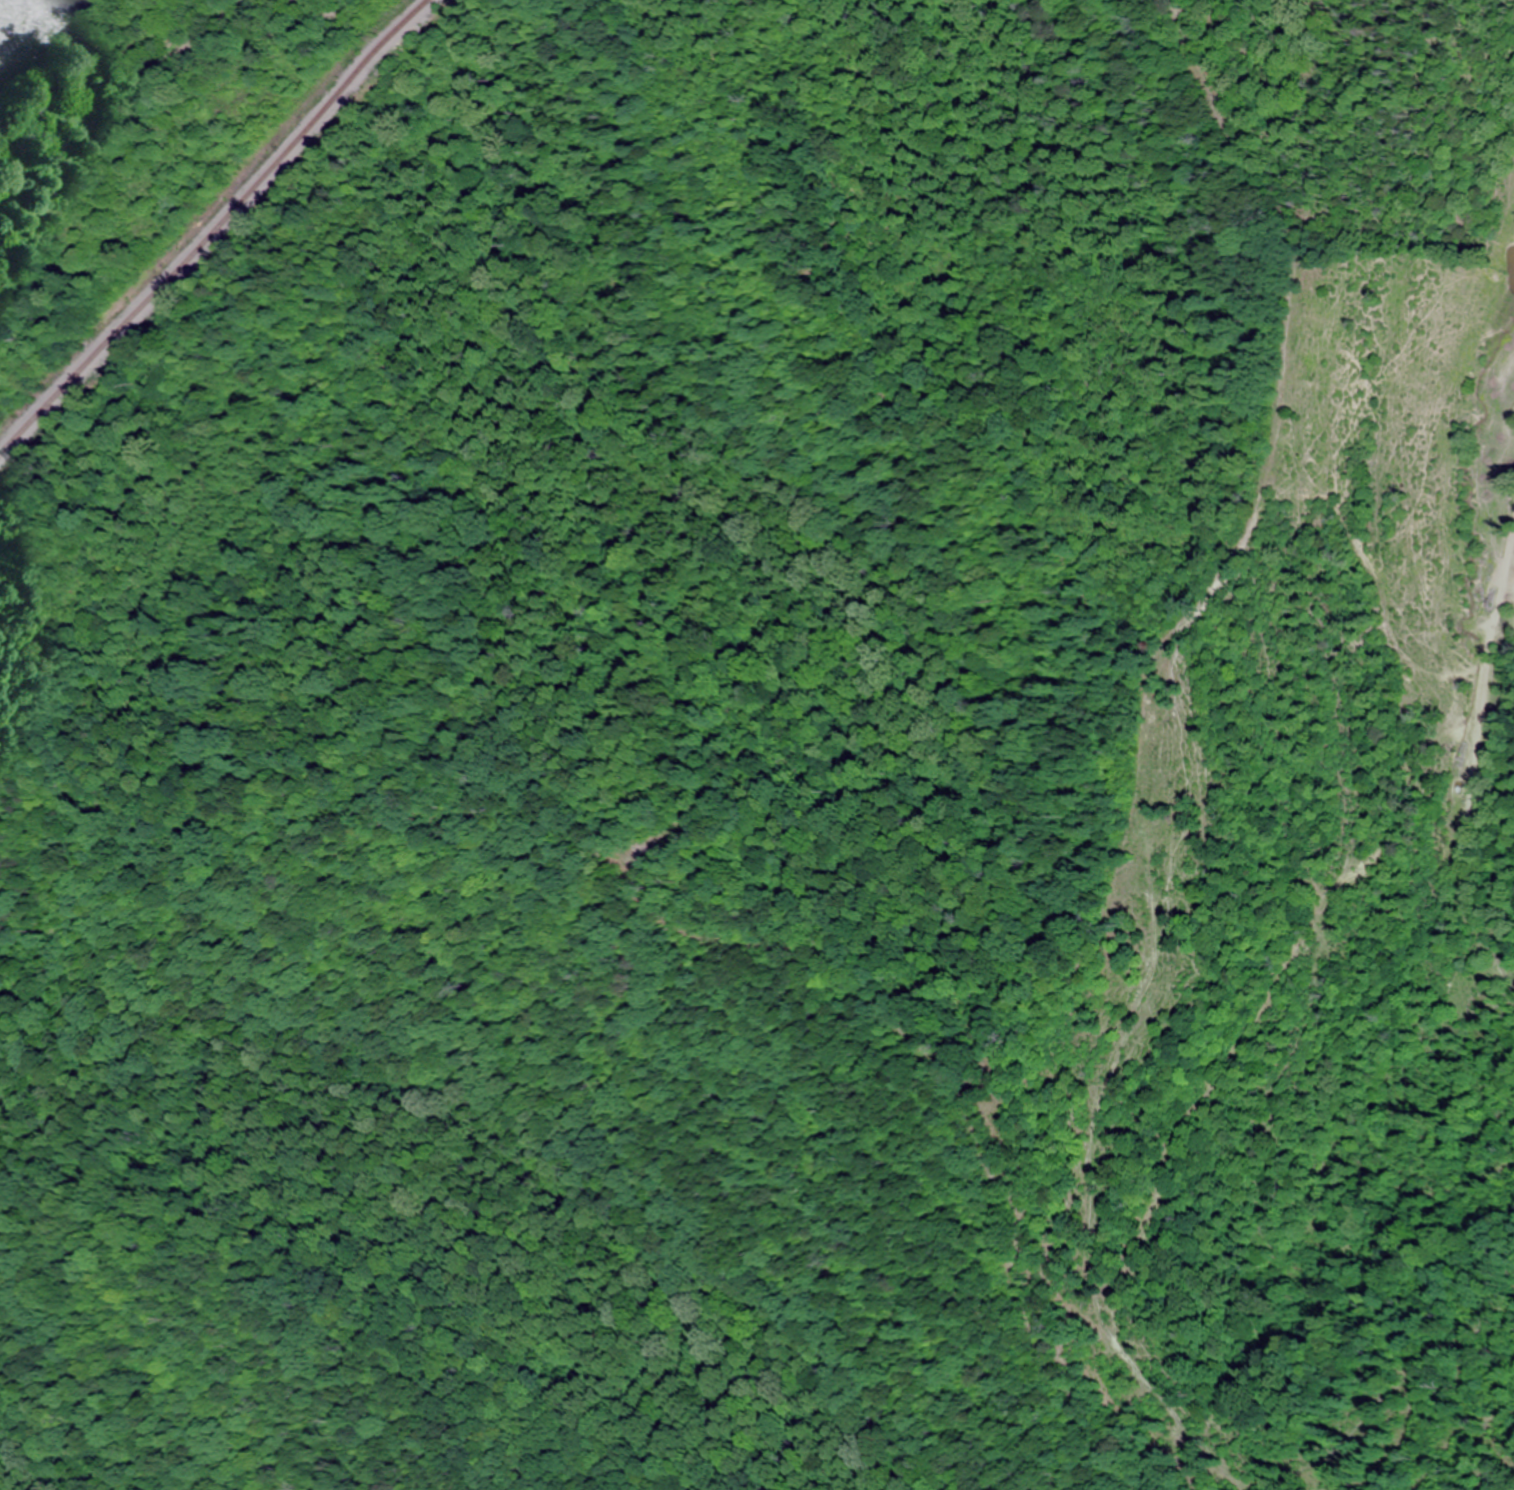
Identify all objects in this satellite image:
river: (8, 6)
railway: (215, 225)

